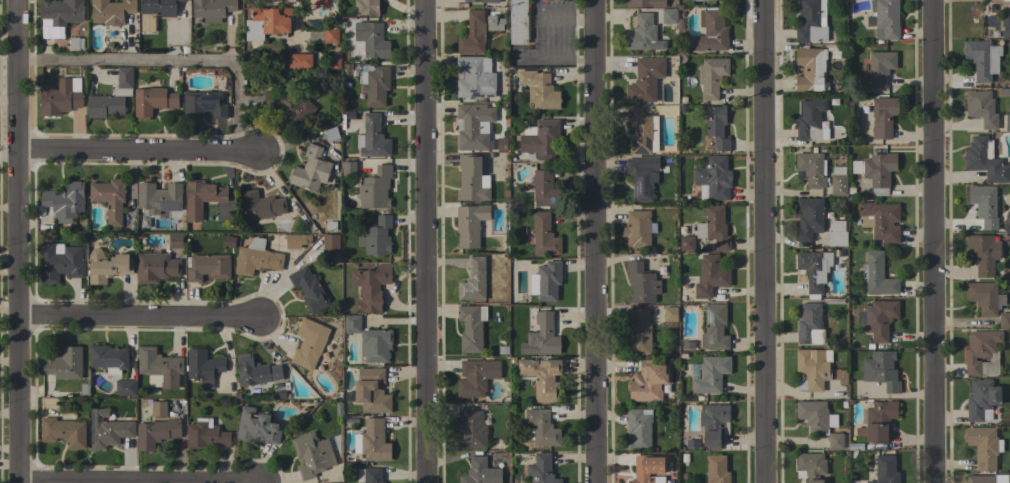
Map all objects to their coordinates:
building: (696, 0)
building: (482, 1)
building: (1007, 1)
building: (646, 3)
building: (158, 7)
building: (366, 7)
building: (212, 9)
building: (111, 11)
building: (668, 15)
building: (59, 16)
road: (563, 17)
building: (886, 19)
building: (519, 21)
building: (811, 21)
building: (869, 21)
building: (266, 23)
building: (495, 23)
building: (1006, 26)
building: (711, 30)
building: (641, 32)
building: (473, 34)
building: (331, 35)
building: (371, 39)
building: (75, 42)
road: (559, 58)
building: (335, 59)
building: (982, 59)
building: (299, 61)
road: (170, 63)
building: (880, 67)
building: (810, 68)
building: (712, 76)
building: (475, 77)
building: (645, 80)
building: (375, 85)
building: (539, 89)
building: (61, 97)
building: (112, 97)
building: (153, 101)
building: (289, 102)
building: (204, 104)
building: (984, 110)
building: (348, 116)
building: (883, 116)
building: (810, 122)
building: (473, 126)
building: (716, 126)
building: (639, 131)
building: (373, 138)
building: (541, 139)
building: (331, 142)
building: (502, 144)
building: (492, 145)
road: (138, 152)
building: (985, 160)
building: (811, 167)
building: (310, 169)
building: (351, 169)
building: (876, 171)
building: (714, 177)
building: (472, 179)
building: (640, 180)
building: (838, 180)
building: (375, 188)
building: (544, 189)
building: (158, 197)
building: (201, 197)
building: (109, 199)
building: (65, 201)
building: (984, 204)
building: (260, 205)
building: (880, 220)
building: (818, 222)
building: (470, 224)
building: (279, 227)
building: (714, 227)
building: (638, 228)
building: (544, 235)
building: (377, 237)
building: (176, 240)
building: (297, 240)
road: (19, 241)
road: (425, 241)
road: (593, 241)
road: (764, 241)
road: (931, 241)
building: (228, 242)
building: (331, 242)
building: (686, 243)
building: (983, 253)
building: (256, 258)
building: (59, 262)
building: (107, 266)
building: (207, 266)
building: (156, 267)
building: (814, 270)
building: (877, 275)
building: (710, 276)
building: (473, 280)
building: (546, 281)
building: (641, 283)
building: (370, 287)
building: (309, 289)
building: (985, 297)
building: (670, 315)
road: (141, 319)
building: (878, 319)
building: (1004, 320)
building: (352, 323)
building: (813, 324)
building: (471, 327)
building: (714, 327)
building: (639, 331)
building: (541, 337)
building: (309, 343)
building: (375, 345)
building: (687, 346)
building: (502, 350)
building: (982, 352)
building: (108, 358)
building: (64, 363)
building: (203, 366)
building: (159, 368)
building: (817, 368)
building: (881, 370)
building: (256, 371)
building: (711, 374)
building: (476, 377)
building: (541, 377)
building: (649, 381)
building: (125, 387)
building: (371, 391)
building: (279, 395)
building: (982, 399)
building: (841, 405)
building: (158, 408)
building: (880, 420)
building: (821, 422)
building: (714, 425)
building: (255, 427)
building: (541, 427)
building: (471, 428)
building: (639, 428)
building: (108, 429)
building: (64, 432)
building: (859, 432)
building: (156, 433)
building: (205, 434)
building: (372, 441)
building: (691, 444)
building: (984, 446)
building: (312, 454)
building: (811, 465)
building: (542, 469)
building: (648, 469)
building: (717, 469)
building: (885, 470)
building: (480, 472)
building: (372, 475)
building: (986, 478)

